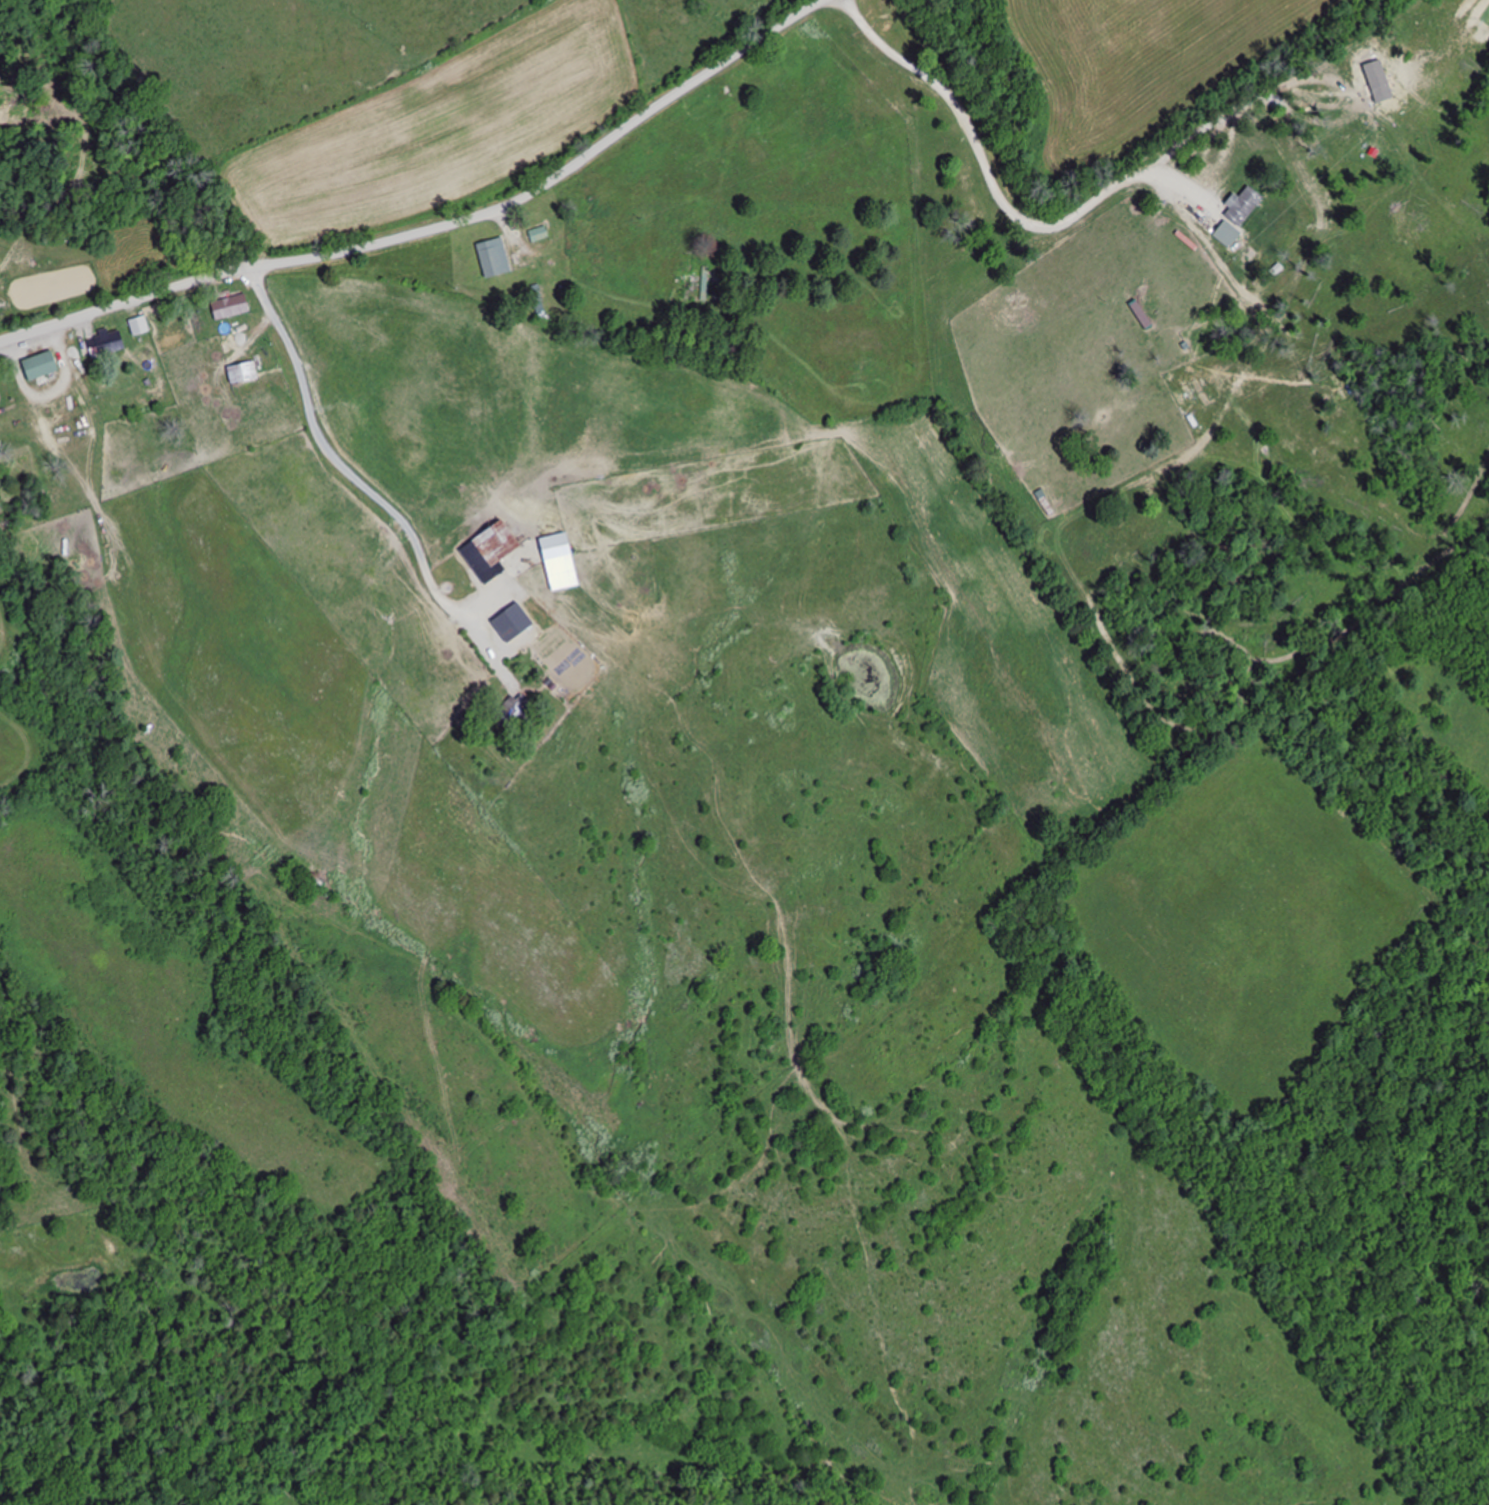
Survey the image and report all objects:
building: (1246, 206)
road: (433, 227)
building: (1228, 234)
building: (539, 235)
building: (495, 258)
building: (688, 280)
building: (233, 307)
building: (142, 327)
building: (108, 344)
building: (44, 367)
building: (246, 374)
building: (1, 398)
road: (373, 494)
building: (1045, 502)
building: (500, 544)
building: (559, 688)
building: (523, 713)

